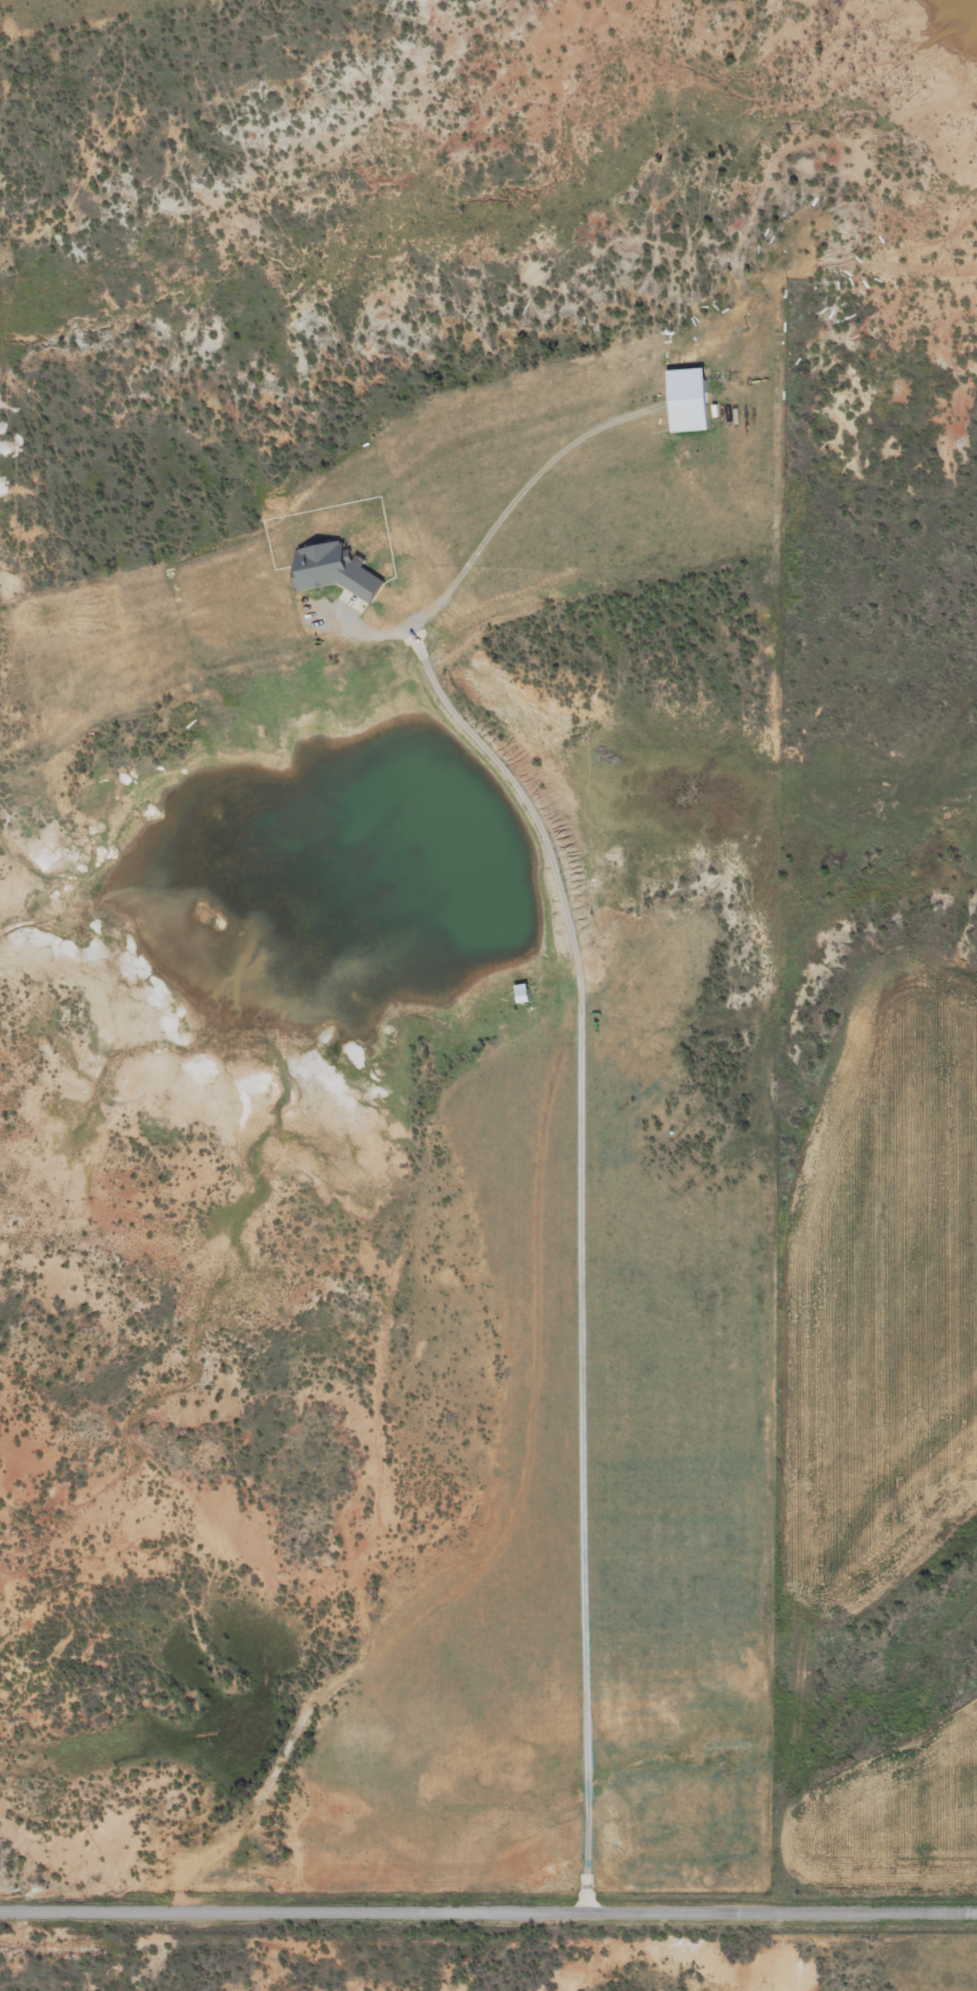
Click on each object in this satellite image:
road: (488, 1913)

